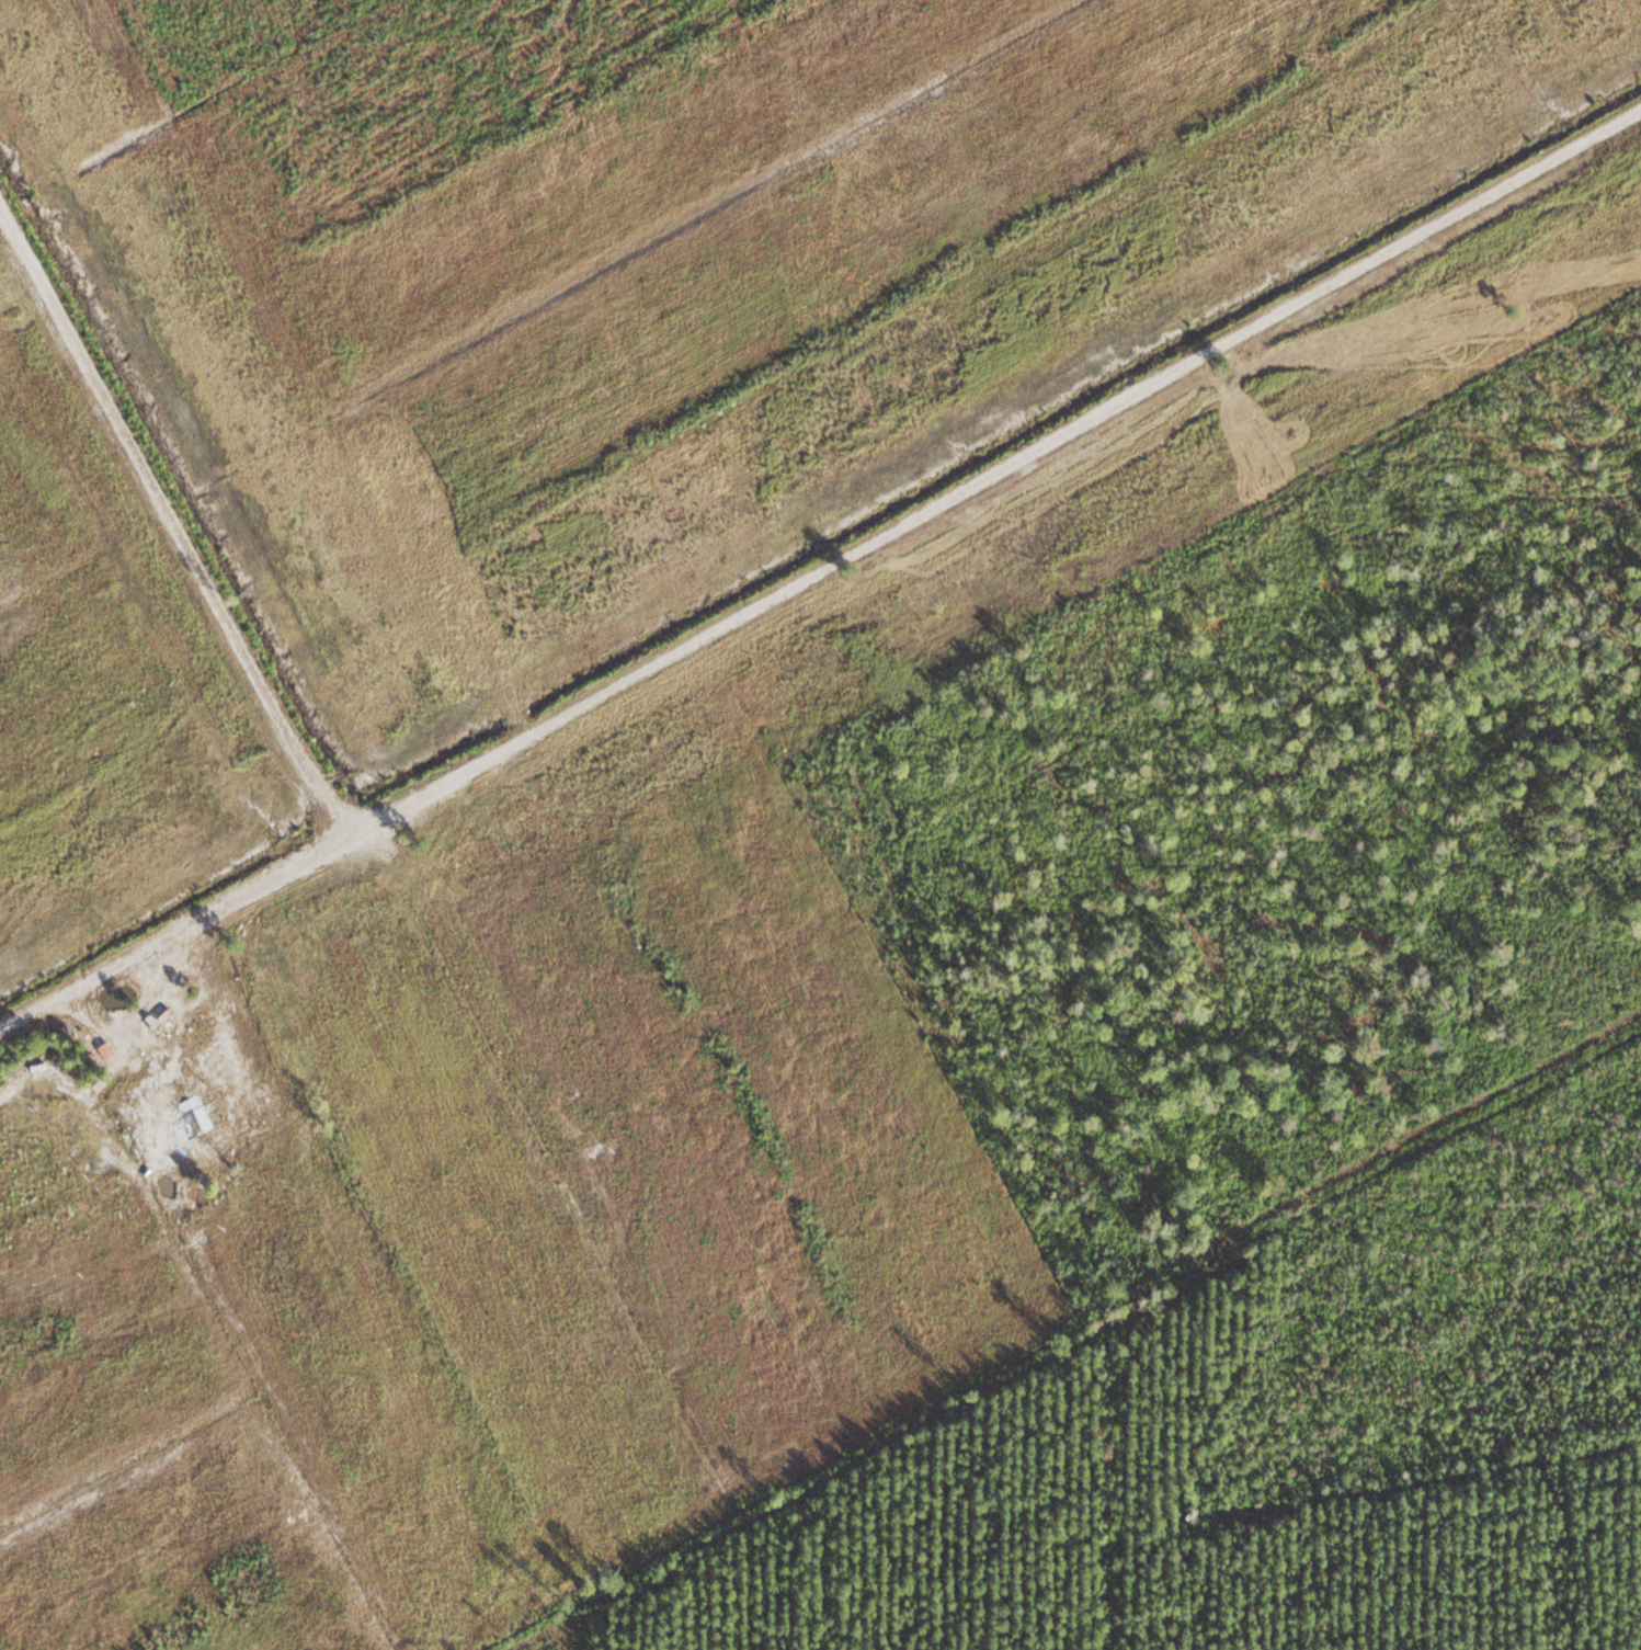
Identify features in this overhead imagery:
road: (164, 600)
road: (819, 629)
building: (158, 1014)
building: (106, 1049)

